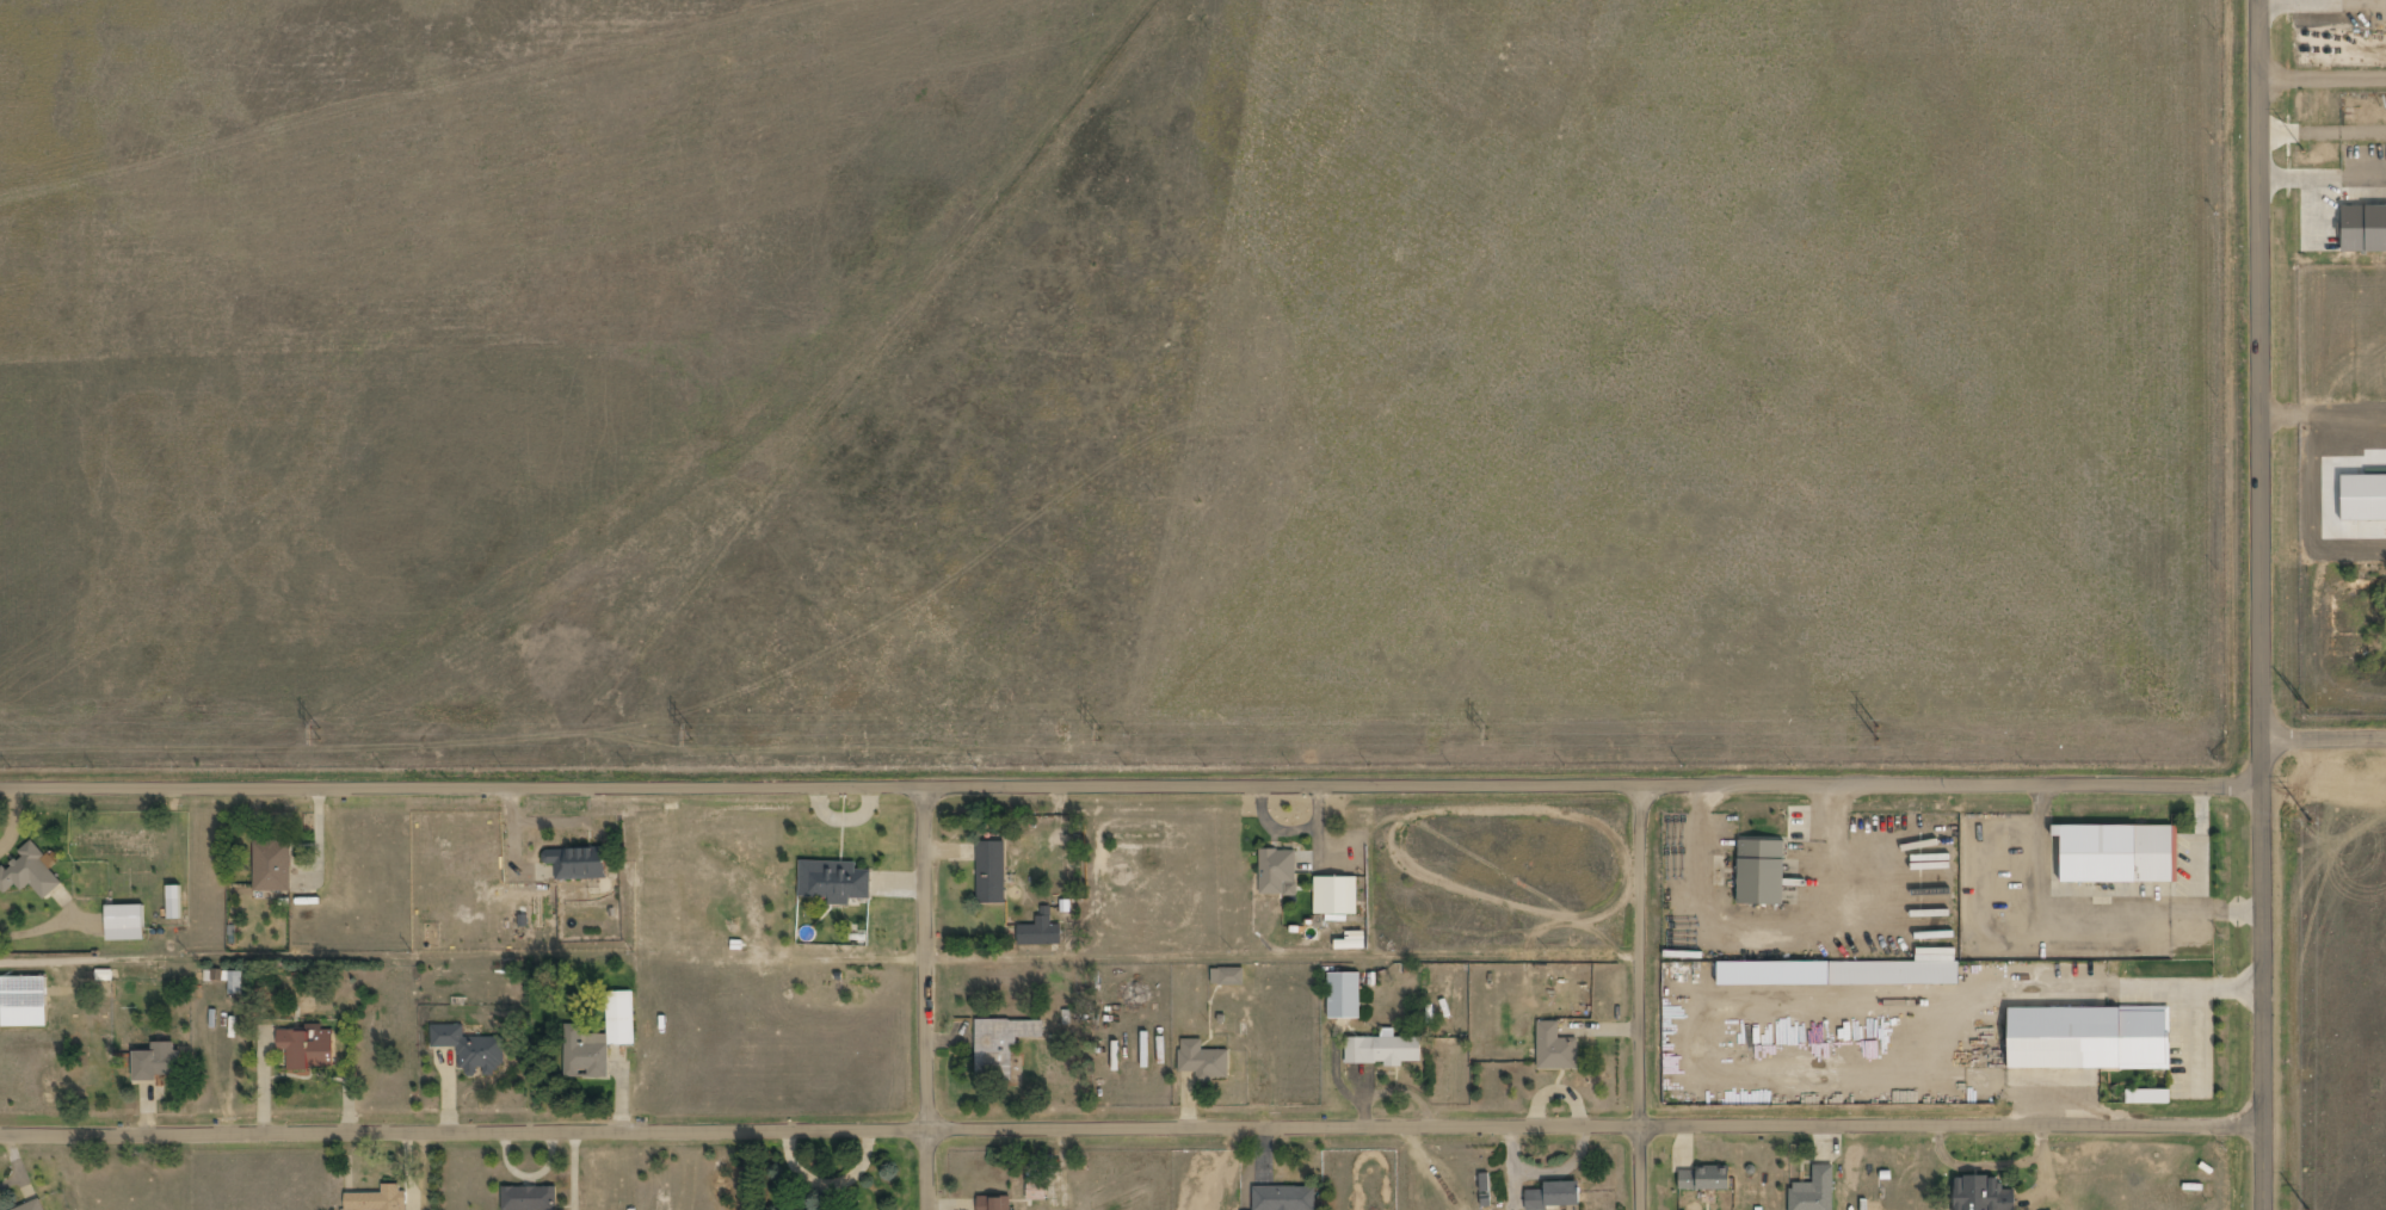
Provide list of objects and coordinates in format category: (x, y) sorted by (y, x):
power tower: (2306, 152)
building: (2363, 229)
building: (2362, 498)
road: (2261, 604)
power tower: (2311, 709)
power tower: (316, 731)
power tower: (691, 733)
power tower: (1103, 734)
power tower: (1879, 734)
road: (2318, 734)
power tower: (1487, 735)
road: (1135, 783)
power tower: (2312, 823)
building: (2117, 854)
building: (578, 864)
building: (272, 868)
building: (29, 872)
building: (991, 873)
building: (1278, 873)
building: (1761, 875)
building: (834, 882)
building: (1336, 897)
building: (174, 902)
building: (125, 922)
building: (1040, 931)
building: (1838, 973)
building: (1227, 977)
building: (236, 982)
road: (1645, 995)
road: (929, 996)
building: (1451, 996)
building: (1343, 998)
building: (24, 1002)
building: (2088, 1039)
building: (598, 1041)
building: (1556, 1047)
building: (1000, 1048)
building: (308, 1049)
building: (470, 1050)
building: (1383, 1052)
building: (160, 1062)
building: (1203, 1062)
building: (2148, 1098)
road: (1130, 1124)
building: (1704, 1180)
building: (1037, 1187)
building: (1814, 1191)
building: (1983, 1194)
building: (530, 1198)
building: (1553, 1198)
building: (1284, 1199)
building: (378, 1200)
building: (995, 1203)
building: (36, 1206)

